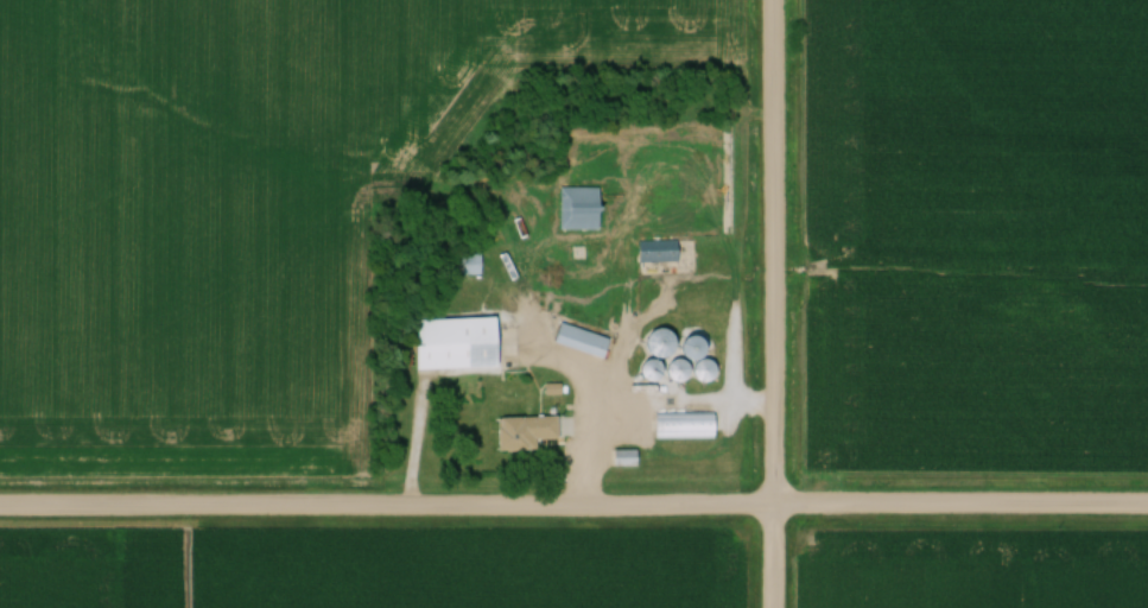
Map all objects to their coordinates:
building: (576, 208)
building: (654, 251)
building: (469, 264)
road: (766, 304)
building: (577, 340)
building: (449, 342)
building: (654, 342)
building: (684, 346)
building: (672, 369)
building: (698, 369)
road: (626, 410)
building: (681, 425)
building: (520, 431)
building: (621, 457)
road: (573, 513)

